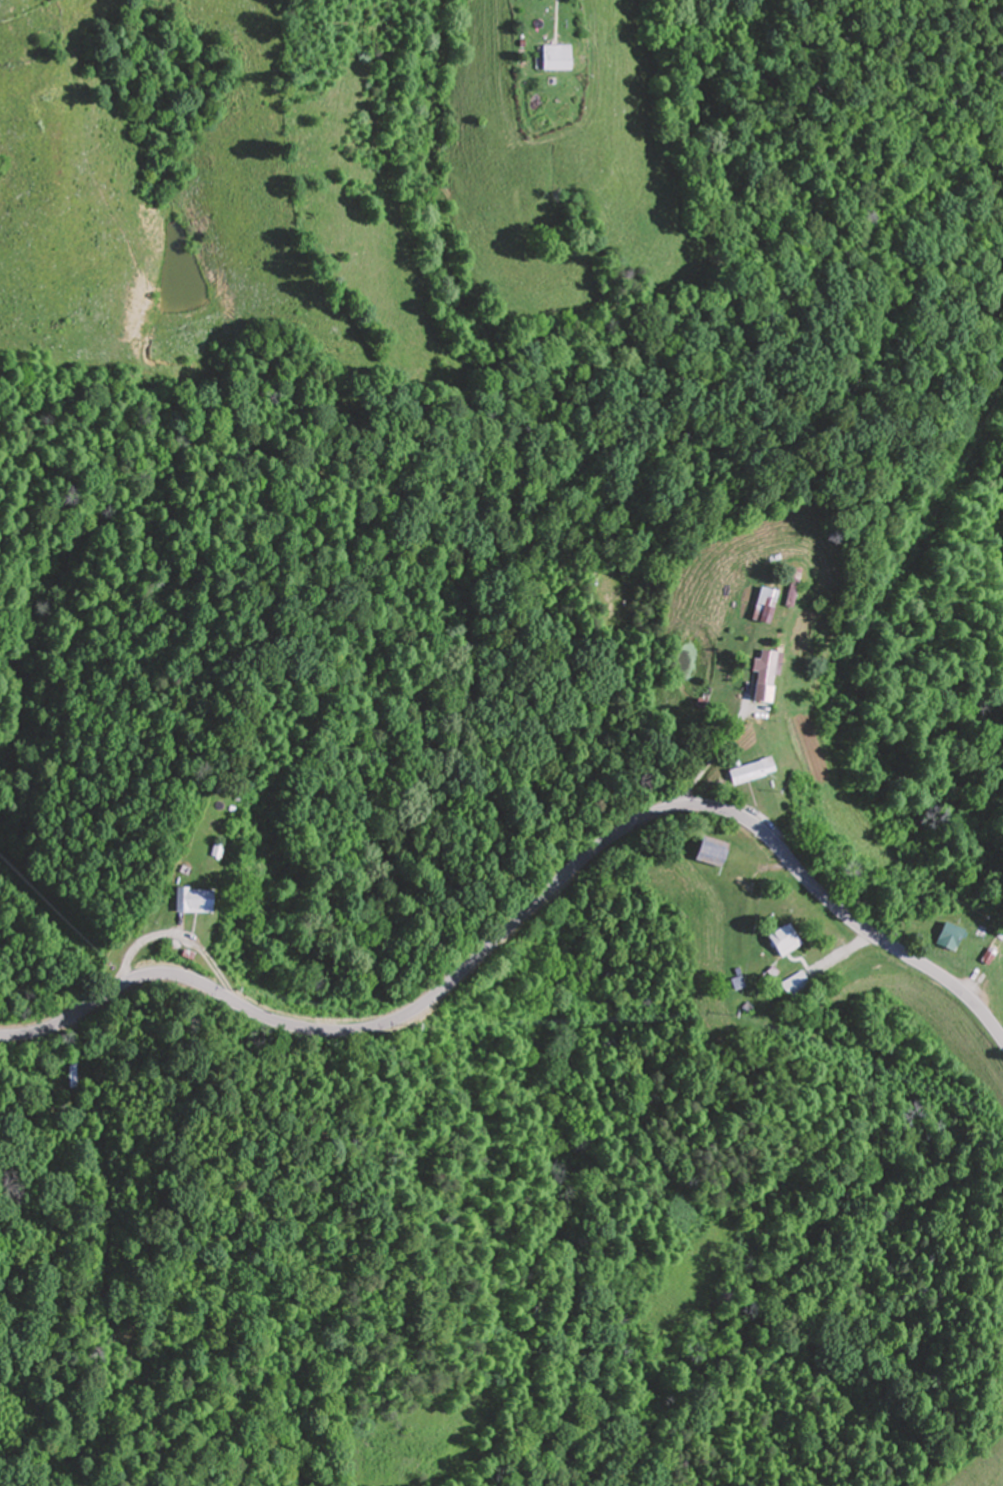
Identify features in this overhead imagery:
road: (252, 0)
building: (550, 57)
building: (785, 587)
building: (759, 606)
building: (758, 676)
road: (570, 768)
building: (746, 771)
building: (708, 852)
building: (188, 901)
road: (529, 906)
building: (942, 937)
building: (778, 941)
building: (76, 1074)

